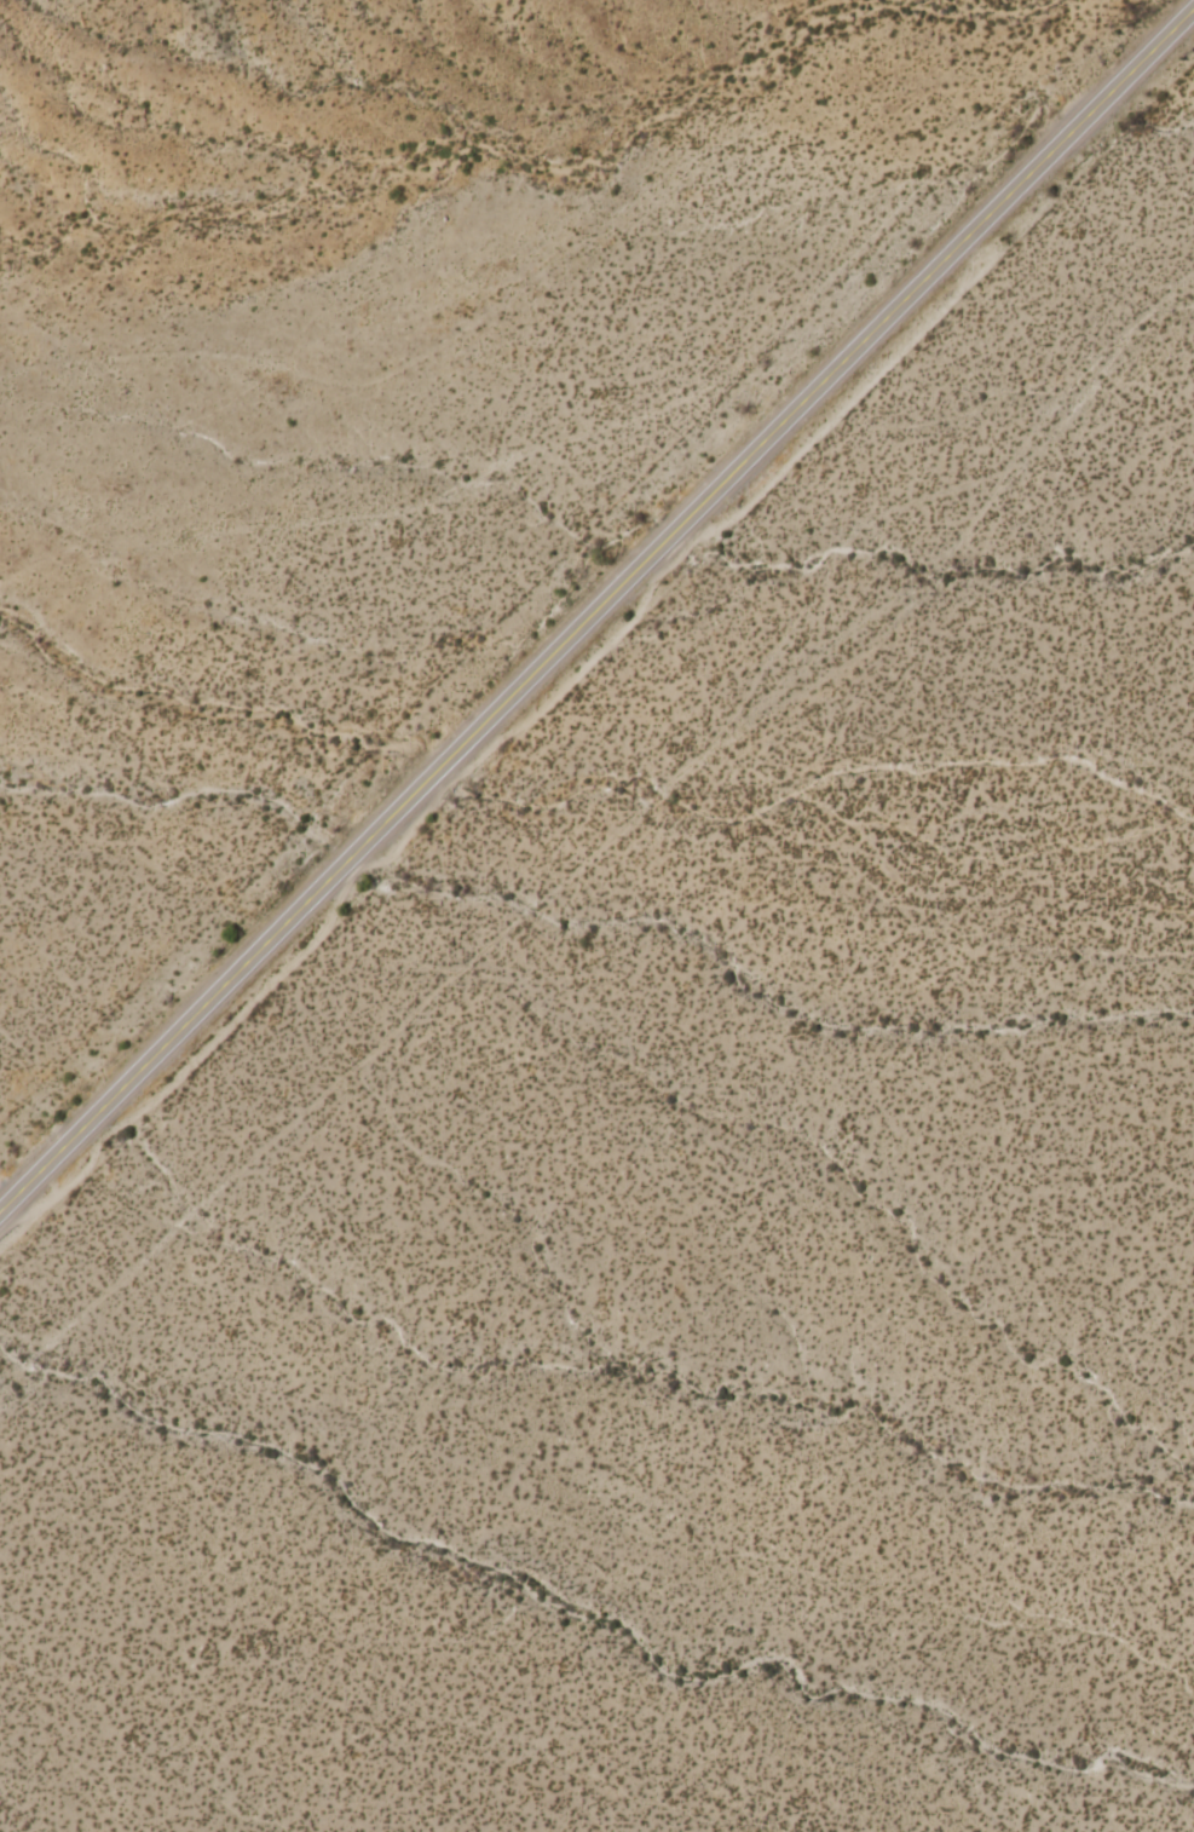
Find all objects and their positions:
road: (596, 603)

